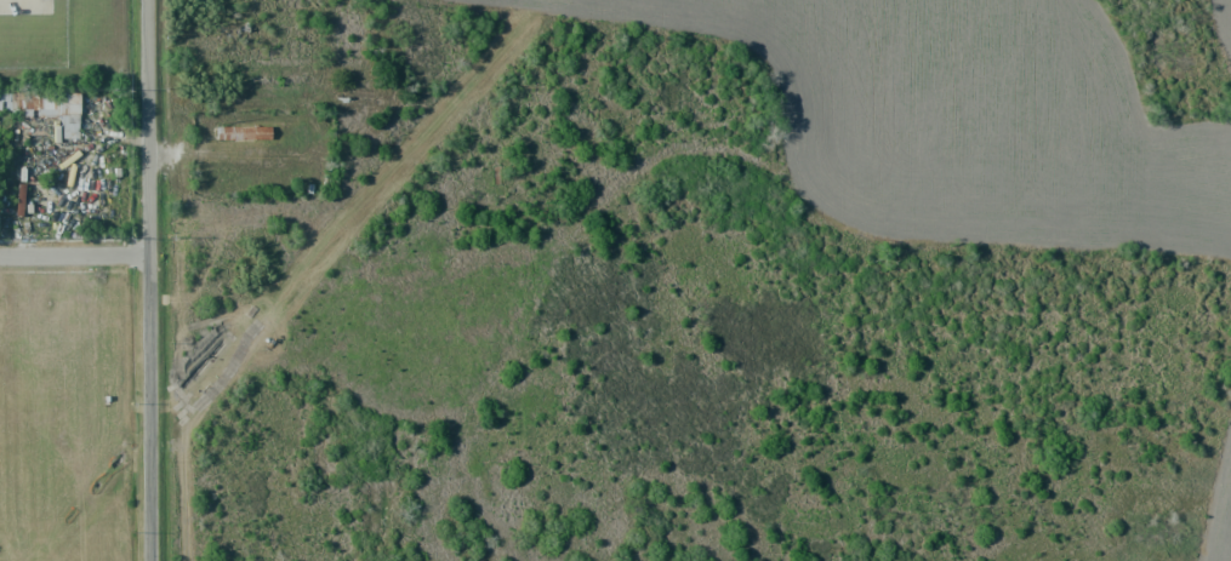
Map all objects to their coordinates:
crop: (991, 107)
building: (243, 132)
road: (75, 258)
road: (150, 280)
crop: (1219, 523)

